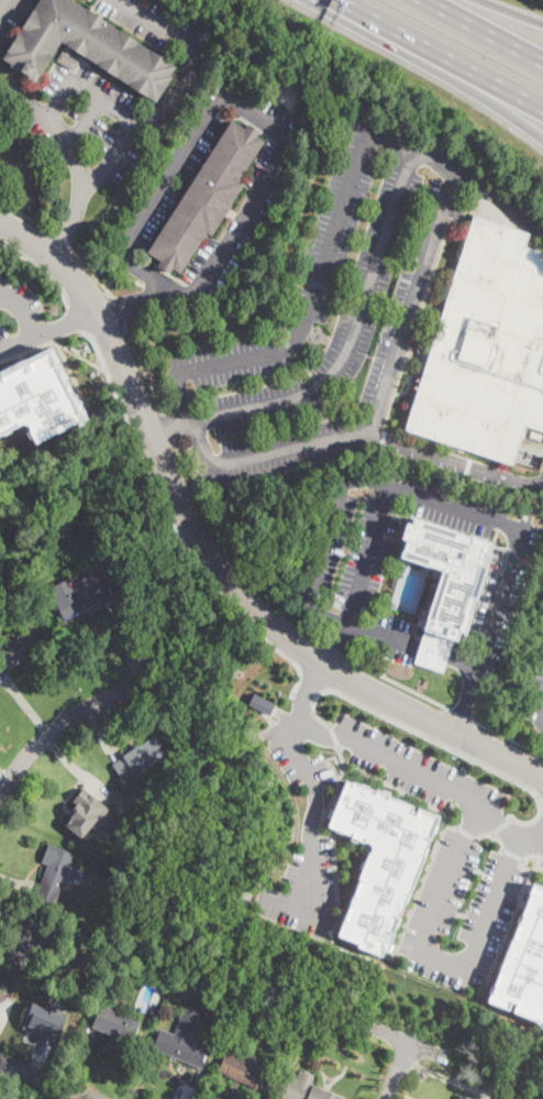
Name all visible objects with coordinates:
road: (2, 4)
road: (511, 12)
parking lot: (10, 14)
road: (363, 18)
parking lot: (159, 28)
road: (487, 29)
building: (85, 46)
road: (469, 73)
road: (470, 86)
building: (300, 108)
road: (144, 122)
parking lot: (86, 123)
road: (84, 124)
road: (284, 141)
road: (68, 146)
road: (112, 155)
road: (459, 175)
parking lot: (261, 188)
building: (204, 196)
road: (25, 215)
road: (69, 219)
road: (62, 240)
road: (38, 266)
road: (91, 270)
road: (310, 298)
road: (117, 308)
road: (22, 314)
road: (103, 315)
parking lot: (326, 315)
road: (76, 317)
parking lot: (26, 320)
road: (348, 336)
road: (16, 344)
building: (486, 344)
road: (142, 367)
road: (385, 377)
building: (35, 397)
road: (190, 419)
road: (165, 426)
road: (170, 428)
road: (454, 466)
road: (429, 501)
road: (174, 526)
road: (323, 541)
road: (234, 551)
road: (212, 553)
road: (366, 556)
building: (32, 568)
parking lot: (345, 573)
building: (444, 584)
building: (78, 594)
road: (495, 598)
building: (387, 603)
road: (124, 639)
road: (386, 639)
road: (340, 648)
building: (18, 649)
road: (336, 649)
road: (399, 682)
parking lot: (535, 693)
road: (303, 695)
road: (464, 700)
road: (24, 702)
building: (261, 702)
road: (315, 714)
road: (461, 714)
road: (539, 714)
road: (57, 724)
road: (101, 730)
road: (333, 734)
road: (508, 737)
parking lot: (299, 746)
road: (448, 747)
road: (330, 756)
building: (137, 757)
road: (342, 758)
road: (70, 762)
parking lot: (413, 766)
road: (345, 772)
road: (4, 774)
road: (426, 774)
road: (313, 785)
road: (541, 795)
building: (89, 811)
road: (452, 824)
road: (500, 825)
building: (147, 826)
road: (466, 831)
road: (332, 834)
road: (492, 834)
road: (439, 837)
road: (513, 853)
building: (142, 861)
building: (380, 861)
parking lot: (541, 861)
building: (55, 872)
building: (115, 873)
road: (16, 883)
parking lot: (304, 890)
parking lot: (439, 900)
road: (517, 902)
road: (15, 909)
building: (107, 939)
building: (24, 942)
road: (451, 959)
building: (522, 960)
building: (182, 982)
building: (0, 987)
building: (43, 1021)
building: (115, 1025)
building: (230, 1040)
building: (182, 1041)
road: (79, 1058)
building: (242, 1069)
road: (396, 1069)
road: (46, 1079)
road: (446, 1079)
road: (18, 1085)
road: (189, 1086)
building: (306, 1088)
road: (262, 1091)
building: (467, 1097)
building: (501, 1097)

